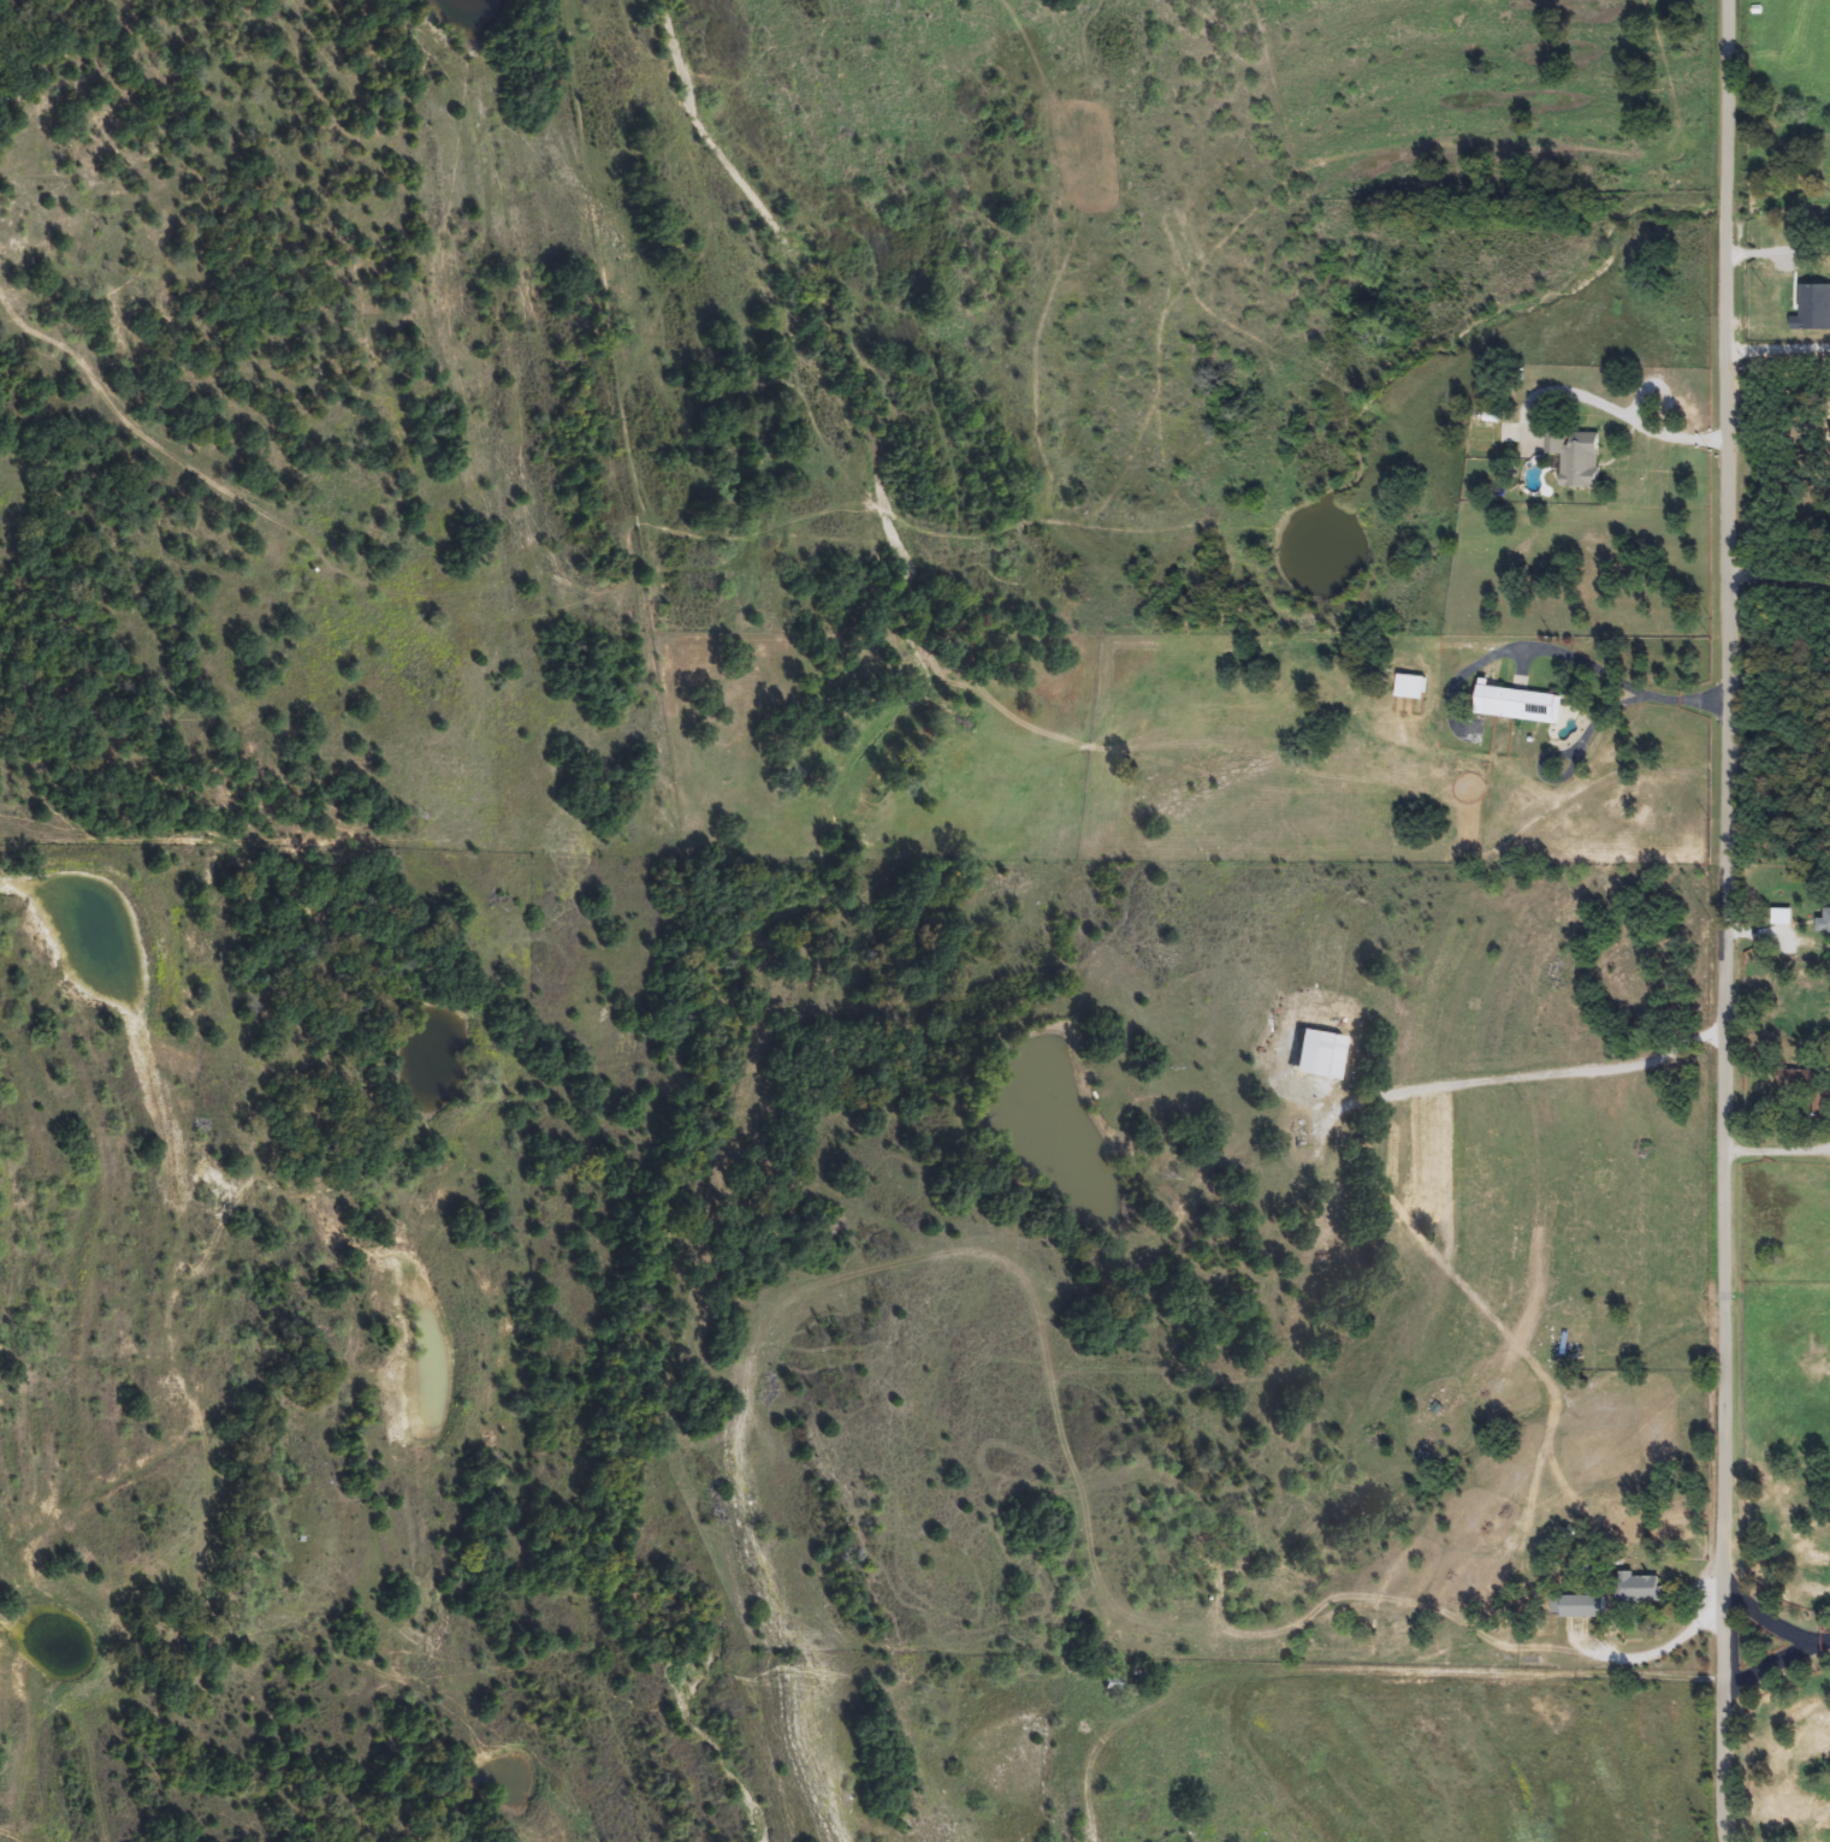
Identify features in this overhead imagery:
building: (1812, 314)
road: (1605, 403)
building: (1575, 462)
road: (1777, 576)
road: (1556, 648)
building: (1409, 687)
building: (1517, 705)
building: (1824, 919)
road: (1722, 920)
building: (1319, 1055)
road: (1556, 1067)
building: (1808, 1090)
road: (1776, 1149)
building: (1637, 1589)
building: (1576, 1606)
road: (1700, 1616)
road: (1769, 1662)
road: (1350, 1672)
building: (1111, 1684)

